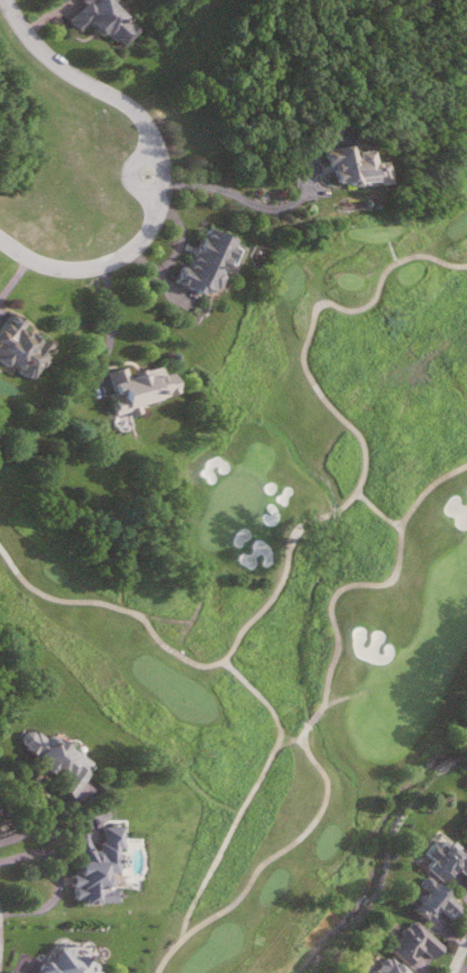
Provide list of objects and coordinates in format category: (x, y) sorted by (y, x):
building: (105, 19)
building: (358, 163)
road: (160, 166)
road: (243, 199)
building: (202, 262)
road: (106, 327)
road: (309, 329)
building: (20, 344)
building: (137, 386)
park: (289, 579)
road: (375, 583)
road: (184, 657)
building: (55, 760)
road: (249, 791)
building: (466, 809)
road: (35, 823)
building: (439, 856)
building: (96, 858)
road: (264, 859)
road: (58, 877)
building: (429, 898)
building: (412, 942)
road: (457, 950)
building: (65, 961)
building: (381, 966)

